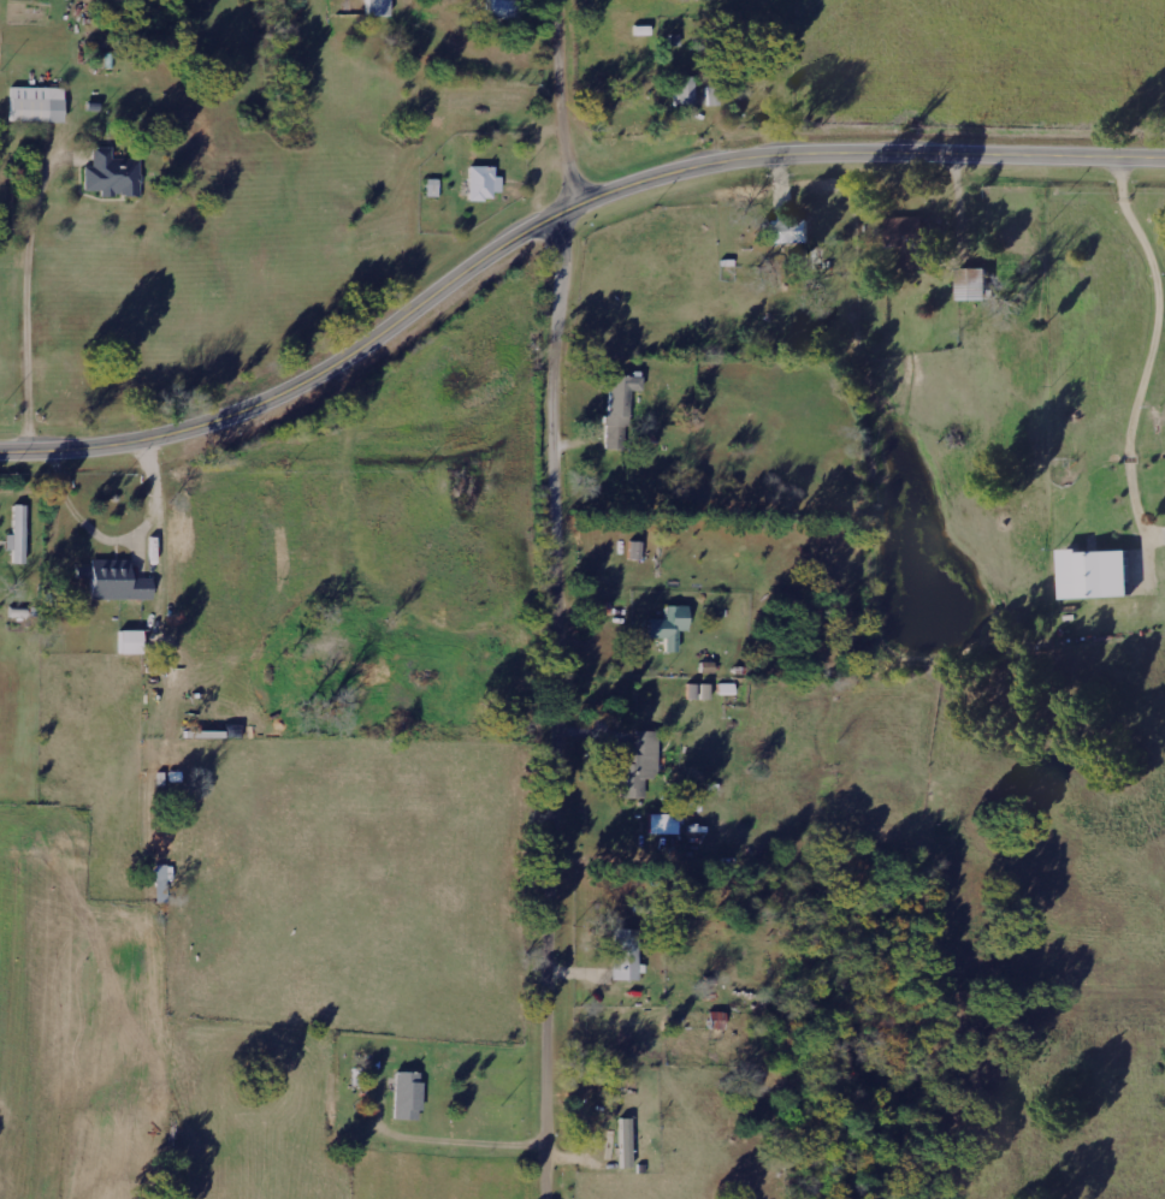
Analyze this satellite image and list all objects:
building: (377, 7)
building: (505, 8)
building: (684, 90)
building: (712, 94)
building: (37, 103)
building: (112, 173)
building: (480, 182)
road: (564, 210)
road: (557, 215)
building: (793, 228)
building: (916, 241)
building: (620, 409)
building: (18, 533)
building: (1101, 572)
building: (118, 580)
building: (19, 611)
building: (670, 624)
building: (131, 641)
building: (639, 764)
road: (563, 811)
building: (663, 823)
building: (626, 954)
building: (408, 1094)
building: (625, 1141)

